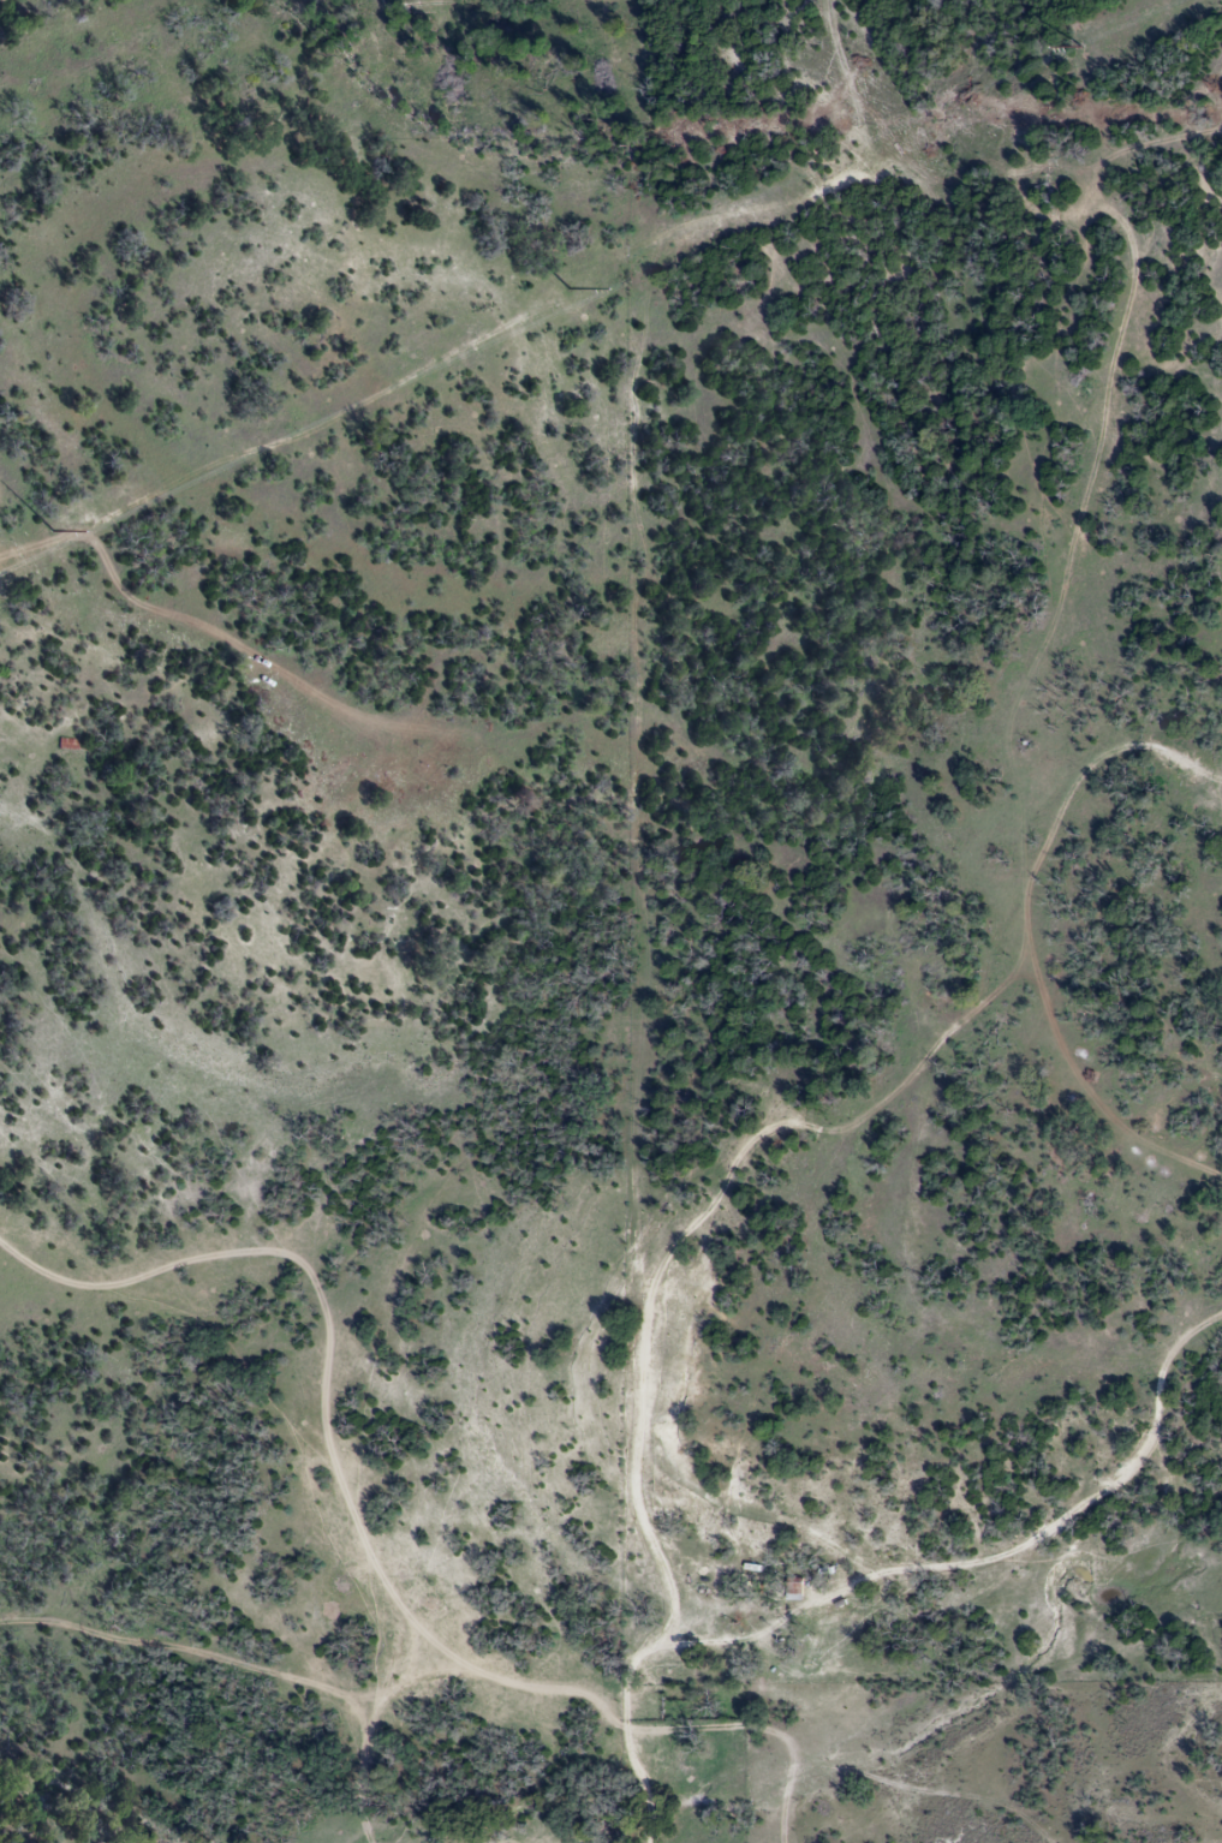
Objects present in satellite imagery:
power tower: (1083, 46)
power tower: (573, 287)
power tower: (56, 531)
road: (387, 1445)

